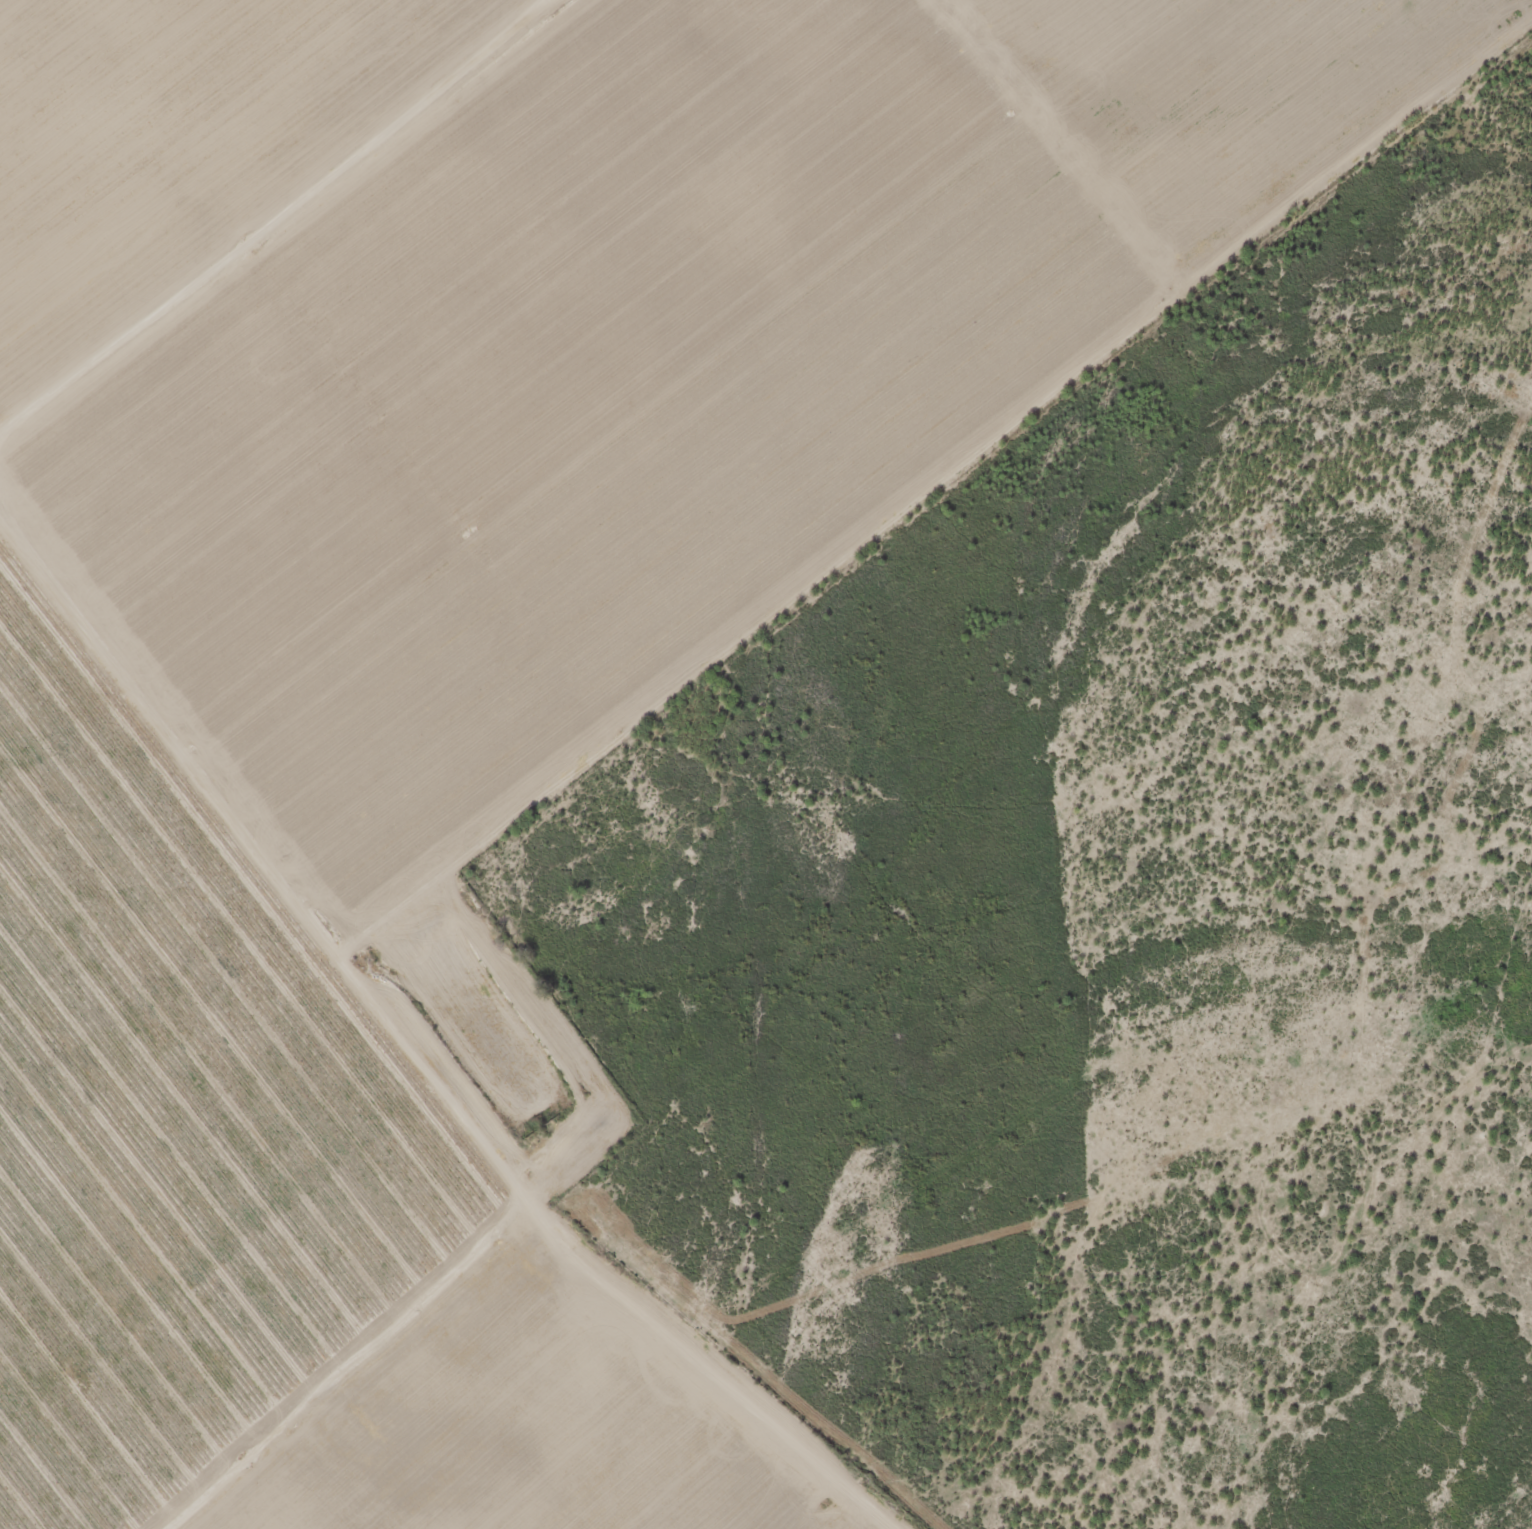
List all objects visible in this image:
road: (629, 731)

